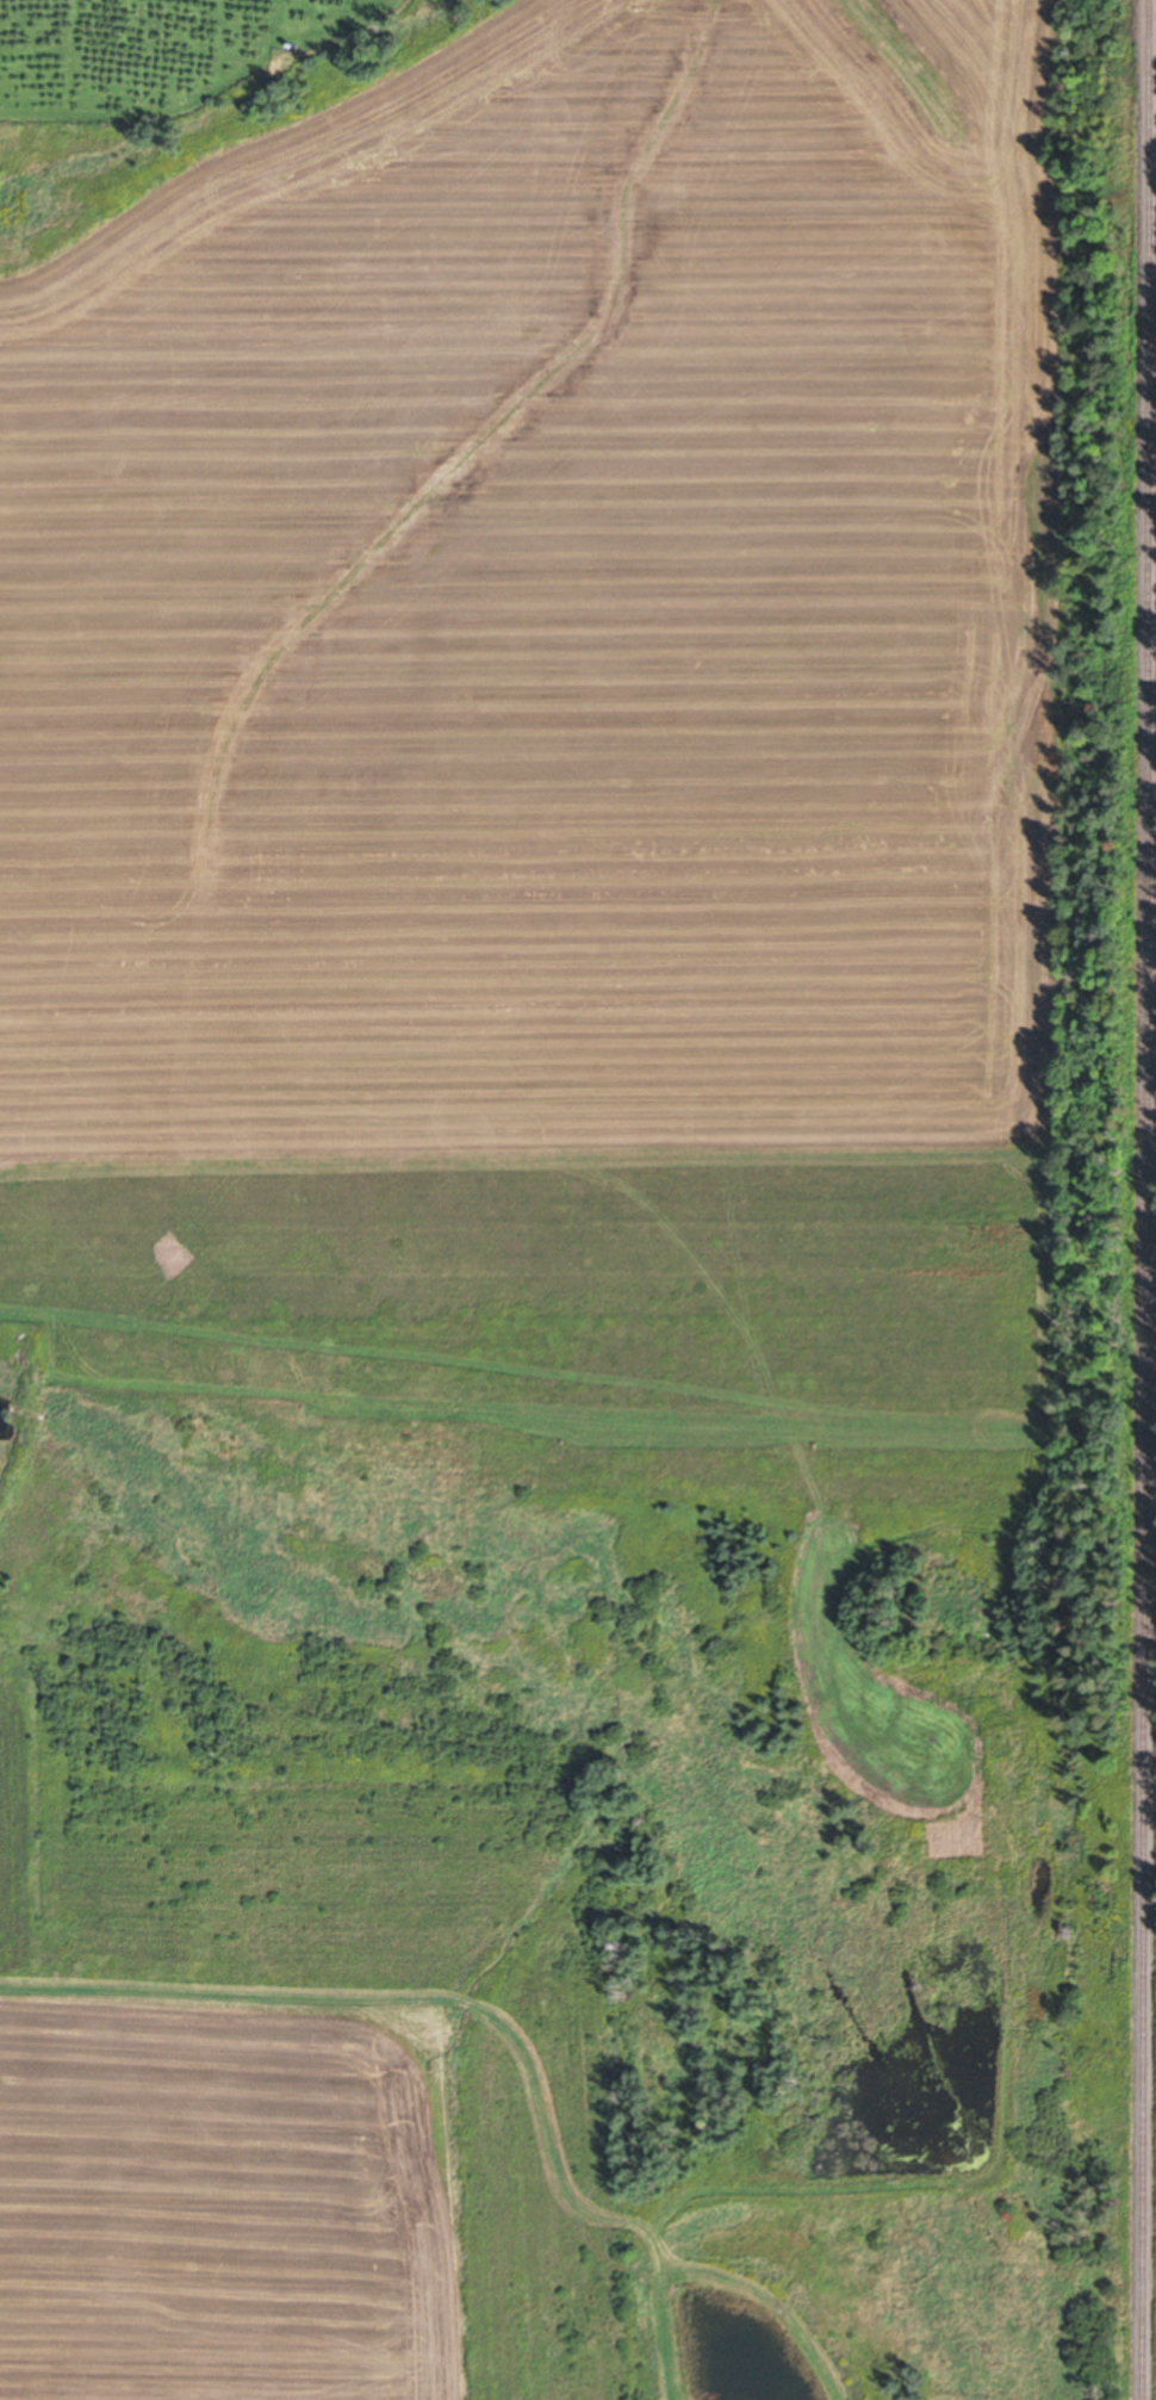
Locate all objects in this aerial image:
railway: (1148, 1199)

